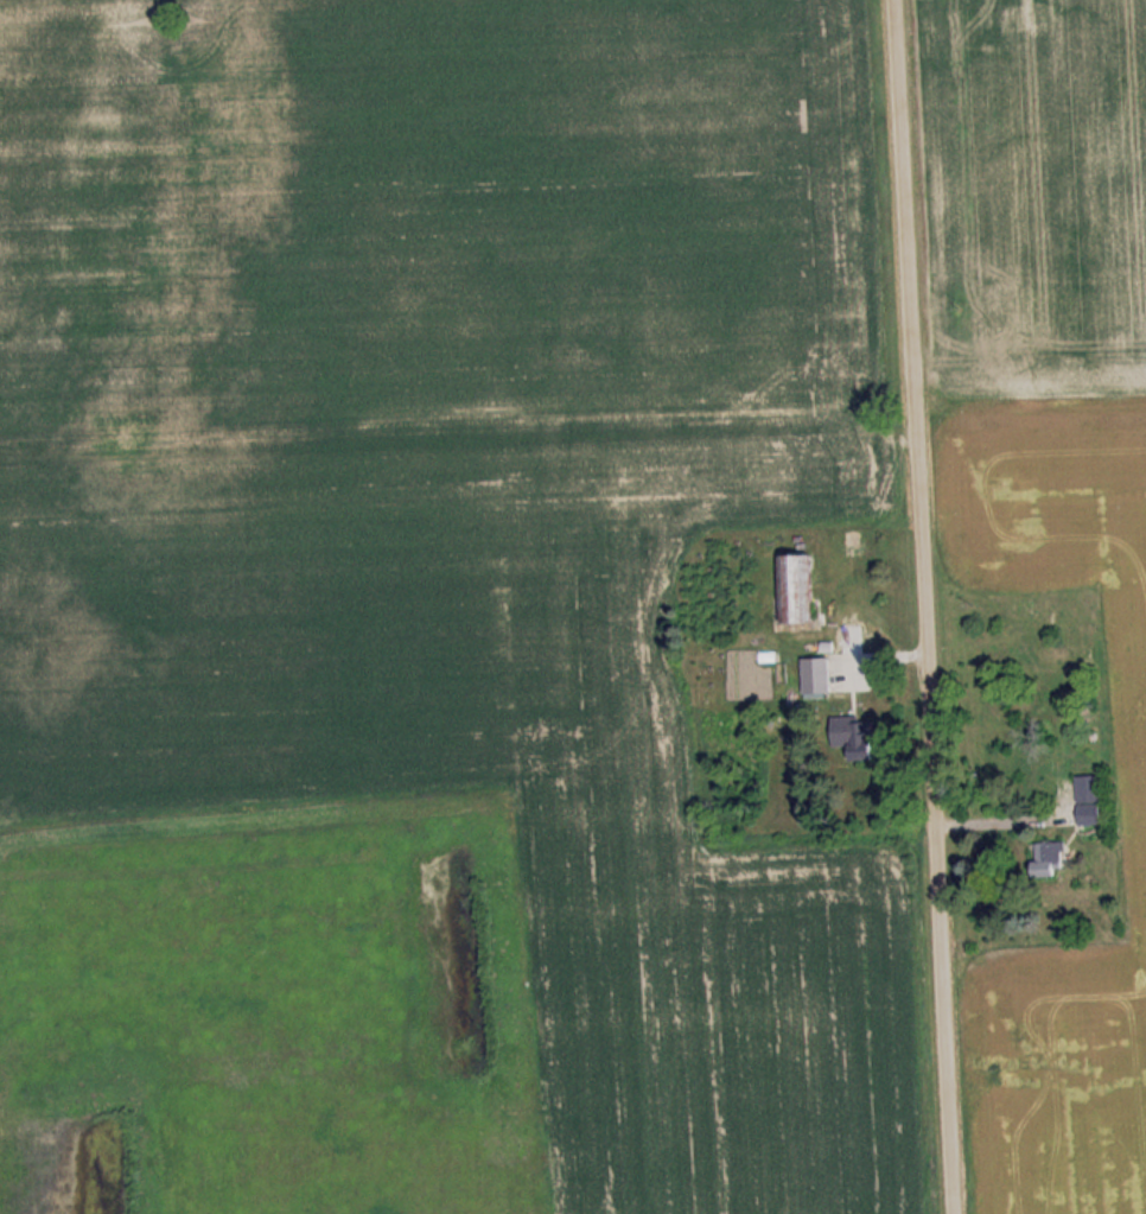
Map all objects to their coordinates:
building: (855, 545)
building: (802, 590)
road: (915, 606)
building: (820, 679)
building: (857, 737)
building: (1090, 789)
building: (1053, 857)

